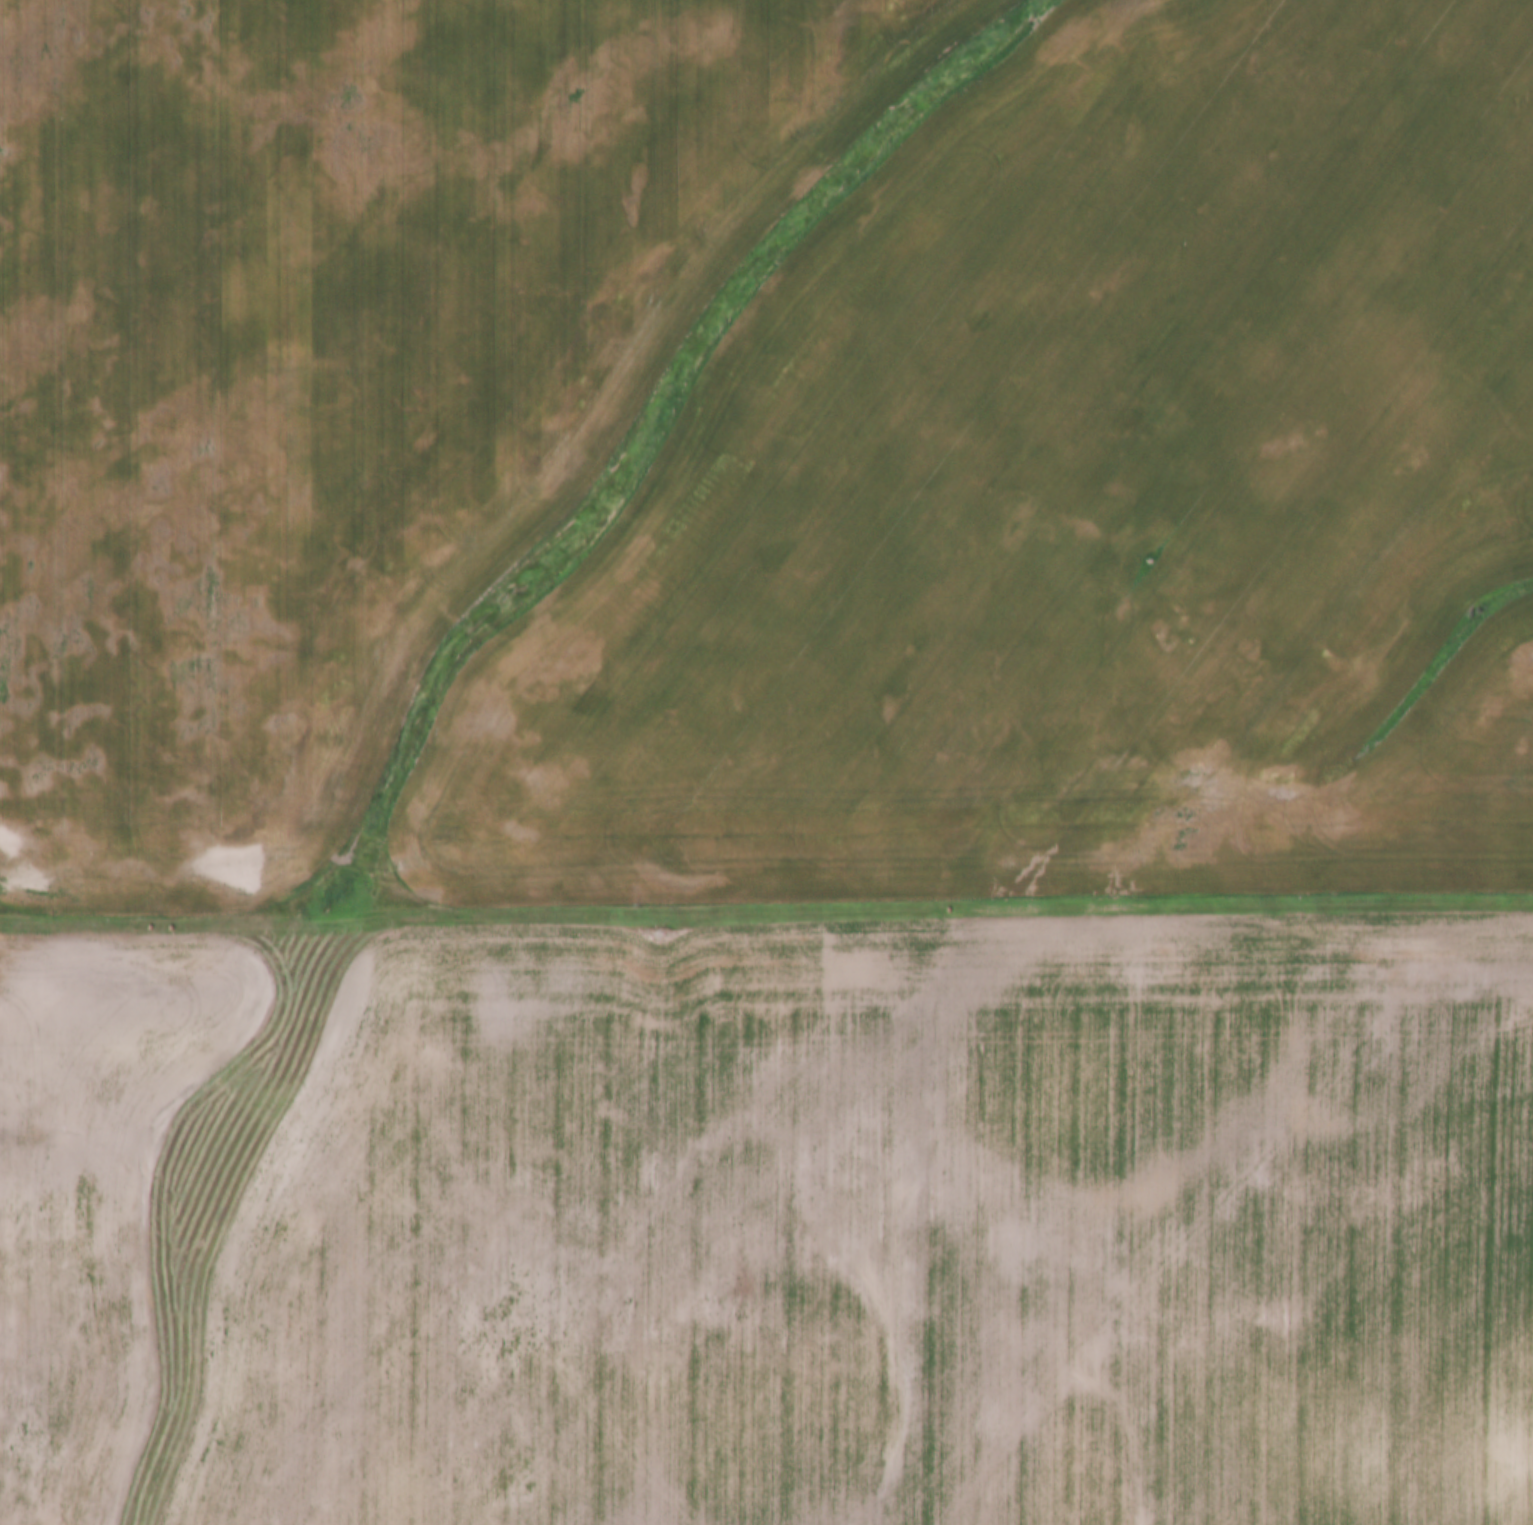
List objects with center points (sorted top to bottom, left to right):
road: (766, 932)

